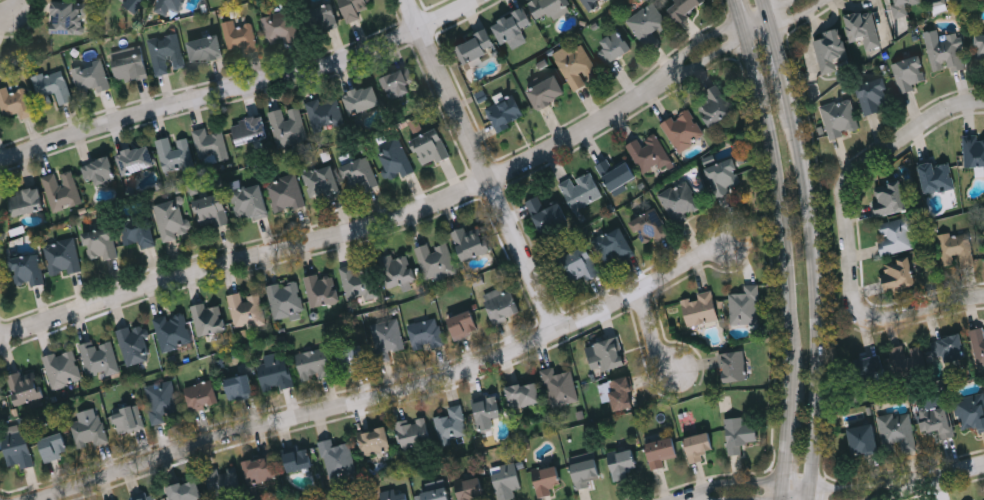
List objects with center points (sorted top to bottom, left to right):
building: (135, 3)
building: (592, 3)
building: (168, 5)
building: (937, 5)
road: (762, 6)
road: (775, 6)
building: (902, 7)
building: (354, 8)
building: (550, 8)
building: (684, 8)
road: (14, 11)
road: (732, 11)
road: (795, 14)
building: (68, 17)
building: (322, 17)
road: (750, 17)
road: (767, 21)
building: (648, 23)
building: (280, 27)
building: (514, 28)
building: (862, 28)
road: (739, 32)
building: (240, 35)
road: (757, 36)
road: (699, 40)
building: (615, 45)
building: (477, 47)
building: (206, 48)
building: (979, 50)
building: (830, 51)
building: (167, 52)
building: (945, 54)
road: (708, 58)
road: (781, 62)
building: (130, 63)
building: (579, 66)
building: (909, 73)
building: (92, 77)
building: (399, 82)
building: (54, 84)
road: (241, 86)
building: (548, 92)
building: (874, 96)
building: (362, 99)
building: (15, 101)
building: (714, 105)
building: (506, 112)
building: (326, 113)
road: (939, 114)
building: (840, 117)
building: (288, 125)
building: (684, 129)
building: (251, 130)
building: (211, 145)
building: (432, 147)
building: (973, 151)
building: (176, 152)
building: (649, 152)
building: (136, 159)
building: (396, 160)
road: (484, 165)
building: (100, 169)
building: (616, 169)
building: (360, 173)
building: (726, 177)
building: (938, 177)
building: (322, 180)
building: (62, 189)
building: (582, 190)
building: (286, 193)
building: (890, 198)
building: (26, 201)
building: (250, 201)
building: (682, 201)
building: (213, 211)
building: (547, 213)
road: (776, 213)
building: (172, 219)
building: (650, 226)
building: (138, 230)
road: (348, 231)
building: (895, 235)
building: (101, 243)
building: (472, 243)
building: (615, 245)
building: (956, 249)
building: (64, 257)
building: (437, 259)
building: (581, 265)
building: (27, 269)
building: (399, 270)
building: (898, 274)
road: (850, 276)
building: (361, 281)
building: (323, 289)
road: (819, 290)
building: (286, 298)
building: (503, 303)
building: (745, 306)
building: (700, 308)
building: (247, 309)
building: (209, 318)
building: (464, 324)
building: (173, 329)
building: (426, 331)
building: (388, 337)
road: (652, 337)
building: (978, 343)
building: (135, 344)
building: (949, 348)
building: (607, 355)
building: (100, 357)
building: (354, 358)
building: (906, 360)
building: (315, 363)
building: (735, 366)
building: (63, 367)
building: (864, 369)
building: (276, 371)
building: (0, 385)
building: (26, 386)
building: (240, 386)
building: (561, 386)
building: (619, 392)
road: (388, 393)
building: (203, 394)
building: (525, 394)
building: (162, 400)
building: (488, 410)
building: (970, 413)
building: (128, 419)
building: (935, 421)
building: (452, 423)
building: (89, 430)
building: (897, 430)
building: (414, 432)
building: (740, 433)
road: (782, 434)
building: (862, 438)
building: (375, 441)
building: (699, 445)
building: (54, 446)
building: (19, 448)
building: (662, 450)
building: (337, 457)
building: (299, 458)
building: (623, 462)
building: (261, 468)
building: (586, 471)
road: (956, 472)
building: (224, 480)
building: (507, 480)
building: (547, 480)
road: (727, 481)
road: (795, 483)
road: (869, 485)
building: (471, 489)
building: (186, 490)
road: (779, 490)
road: (899, 490)
building: (437, 493)
road: (809, 493)
building: (395, 494)
building: (148, 497)

